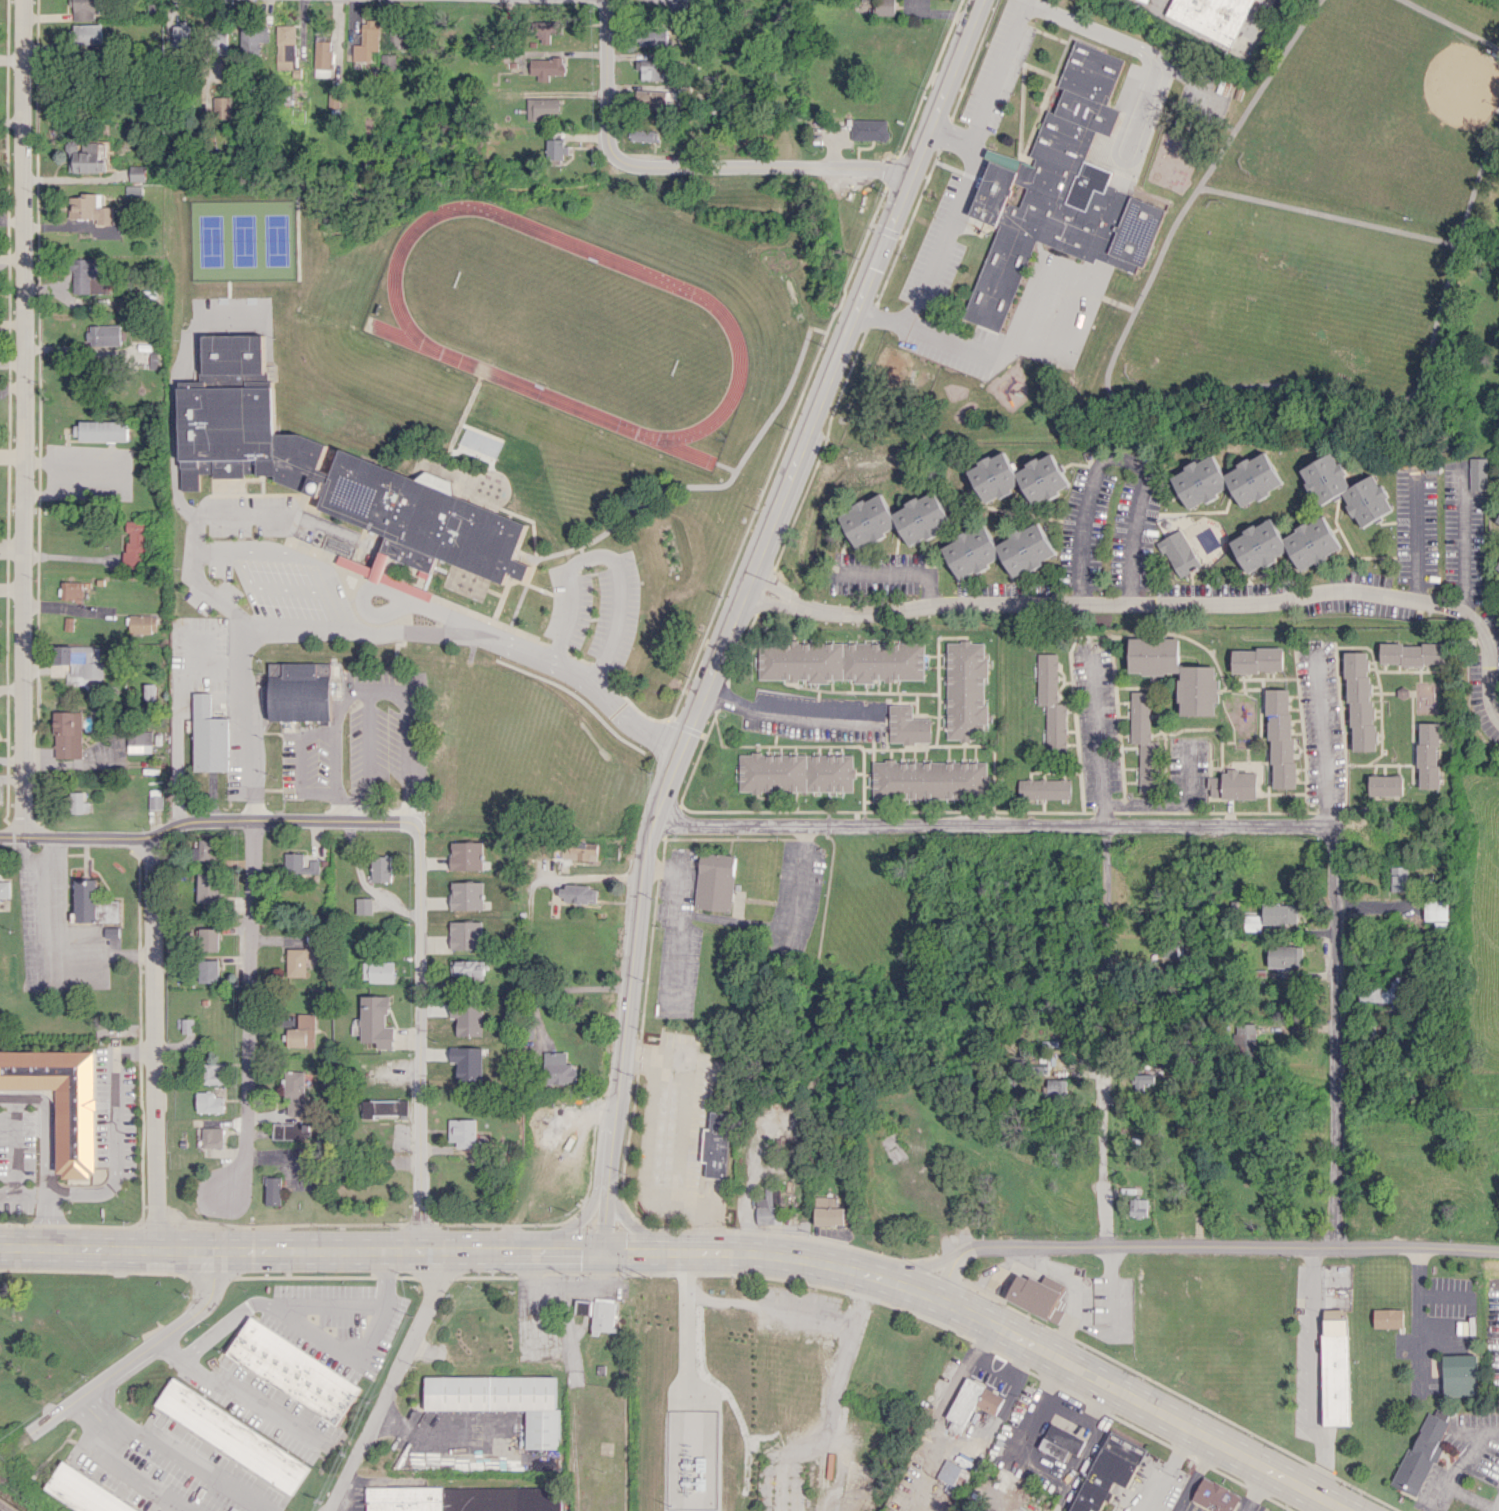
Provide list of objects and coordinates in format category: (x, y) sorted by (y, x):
building: (677, 5)
building: (884, 7)
building: (87, 9)
road: (1021, 15)
building: (1227, 18)
road: (1453, 22)
building: (547, 30)
building: (87, 33)
building: (182, 35)
building: (397, 37)
building: (652, 37)
building: (253, 38)
building: (368, 41)
building: (219, 43)
building: (286, 46)
building: (324, 54)
building: (390, 62)
building: (546, 67)
building: (653, 69)
road: (606, 78)
building: (654, 98)
building: (224, 107)
building: (542, 108)
park: (1377, 113)
building: (868, 129)
building: (644, 135)
road: (946, 137)
building: (557, 149)
building: (89, 156)
building: (997, 161)
road: (761, 166)
building: (138, 173)
building: (135, 190)
road: (1218, 191)
building: (1060, 194)
building: (91, 208)
road: (1461, 233)
road: (932, 257)
road: (1155, 263)
building: (89, 276)
park: (1478, 299)
track: (569, 322)
building: (103, 335)
building: (154, 359)
road: (172, 388)
road: (1236, 399)
road: (22, 418)
building: (99, 430)
road: (1117, 459)
building: (1480, 473)
building: (1017, 477)
building: (1226, 480)
building: (438, 481)
building: (1347, 489)
building: (355, 497)
road: (221, 514)
building: (895, 519)
building: (1498, 520)
road: (1418, 536)
road: (1466, 541)
building: (1284, 544)
building: (135, 546)
building: (998, 550)
building: (1177, 552)
road: (603, 554)
road: (289, 557)
building: (354, 565)
building: (1498, 568)
road: (899, 575)
road: (750, 585)
building: (71, 590)
road: (782, 591)
road: (778, 602)
road: (1195, 603)
road: (732, 610)
building: (142, 623)
road: (388, 635)
building: (1412, 653)
building: (1255, 660)
building: (841, 661)
building: (81, 664)
building: (1174, 672)
building: (965, 689)
building: (299, 691)
road: (389, 691)
building: (1358, 701)
building: (1051, 703)
road: (782, 714)
building: (908, 725)
building: (67, 734)
building: (208, 736)
building: (1279, 738)
road: (1324, 740)
building: (139, 741)
building: (1142, 741)
road: (335, 742)
road: (1097, 742)
building: (1427, 755)
road: (176, 762)
building: (796, 772)
building: (929, 779)
building: (1231, 785)
building: (1384, 785)
building: (1044, 788)
building: (154, 798)
building: (76, 802)
road: (213, 820)
road: (992, 824)
building: (204, 849)
building: (581, 851)
road: (26, 855)
building: (468, 855)
building: (297, 864)
building: (380, 868)
road: (1105, 870)
building: (1398, 878)
building: (720, 880)
building: (207, 888)
building: (4, 889)
building: (580, 894)
building: (468, 895)
building: (103, 903)
building: (363, 905)
building: (1435, 910)
building: (1279, 913)
road: (679, 922)
building: (1252, 922)
building: (1440, 925)
road: (782, 926)
building: (467, 935)
building: (206, 939)
road: (47, 947)
building: (1284, 956)
building: (293, 962)
building: (468, 968)
building: (207, 970)
building: (377, 971)
building: (1379, 990)
road: (248, 1009)
building: (375, 1021)
building: (300, 1031)
building: (1245, 1035)
road: (1335, 1036)
road: (153, 1043)
road: (418, 1044)
road: (543, 1047)
road: (1105, 1049)
building: (468, 1062)
building: (560, 1068)
building: (212, 1073)
building: (1144, 1083)
building: (1057, 1088)
building: (294, 1092)
building: (60, 1100)
building: (208, 1102)
building: (384, 1107)
road: (45, 1123)
building: (287, 1131)
building: (463, 1132)
building: (665, 1135)
building: (211, 1137)
road: (682, 1139)
building: (718, 1145)
road: (114, 1152)
building: (272, 1190)
building: (770, 1206)
building: (1138, 1207)
building: (829, 1211)
road: (1106, 1214)
road: (46, 1220)
road: (1203, 1246)
traffic signals: (601, 1251)
road: (703, 1251)
road: (921, 1267)
road: (1443, 1294)
building: (1037, 1296)
road: (284, 1306)
building: (582, 1307)
building: (1333, 1313)
building: (602, 1315)
road: (1416, 1317)
building: (1388, 1318)
road: (1437, 1325)
road: (980, 1339)
road: (141, 1351)
road: (991, 1362)
building: (293, 1370)
road: (1313, 1371)
building: (1334, 1371)
building: (1460, 1375)
road: (389, 1380)
building: (501, 1400)
building: (989, 1400)
road: (249, 1401)
road: (94, 1416)
building: (232, 1435)
building: (1060, 1442)
road: (970, 1450)
building: (1420, 1454)
road: (1459, 1460)
road: (184, 1463)
road: (1166, 1469)
building: (1108, 1471)
building: (952, 1473)
road: (133, 1475)
building: (1000, 1481)
building: (84, 1491)
building: (1216, 1496)
road: (1468, 1497)
building: (463, 1498)
road: (1495, 1504)
railway: (7, 1505)

